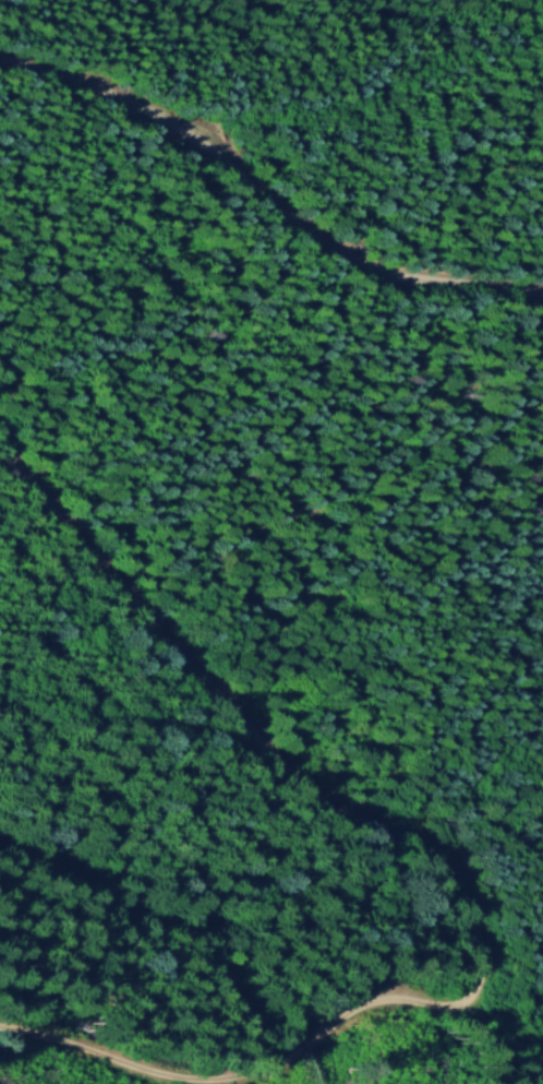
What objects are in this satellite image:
road: (379, 97)
road: (266, 195)
road: (450, 874)

